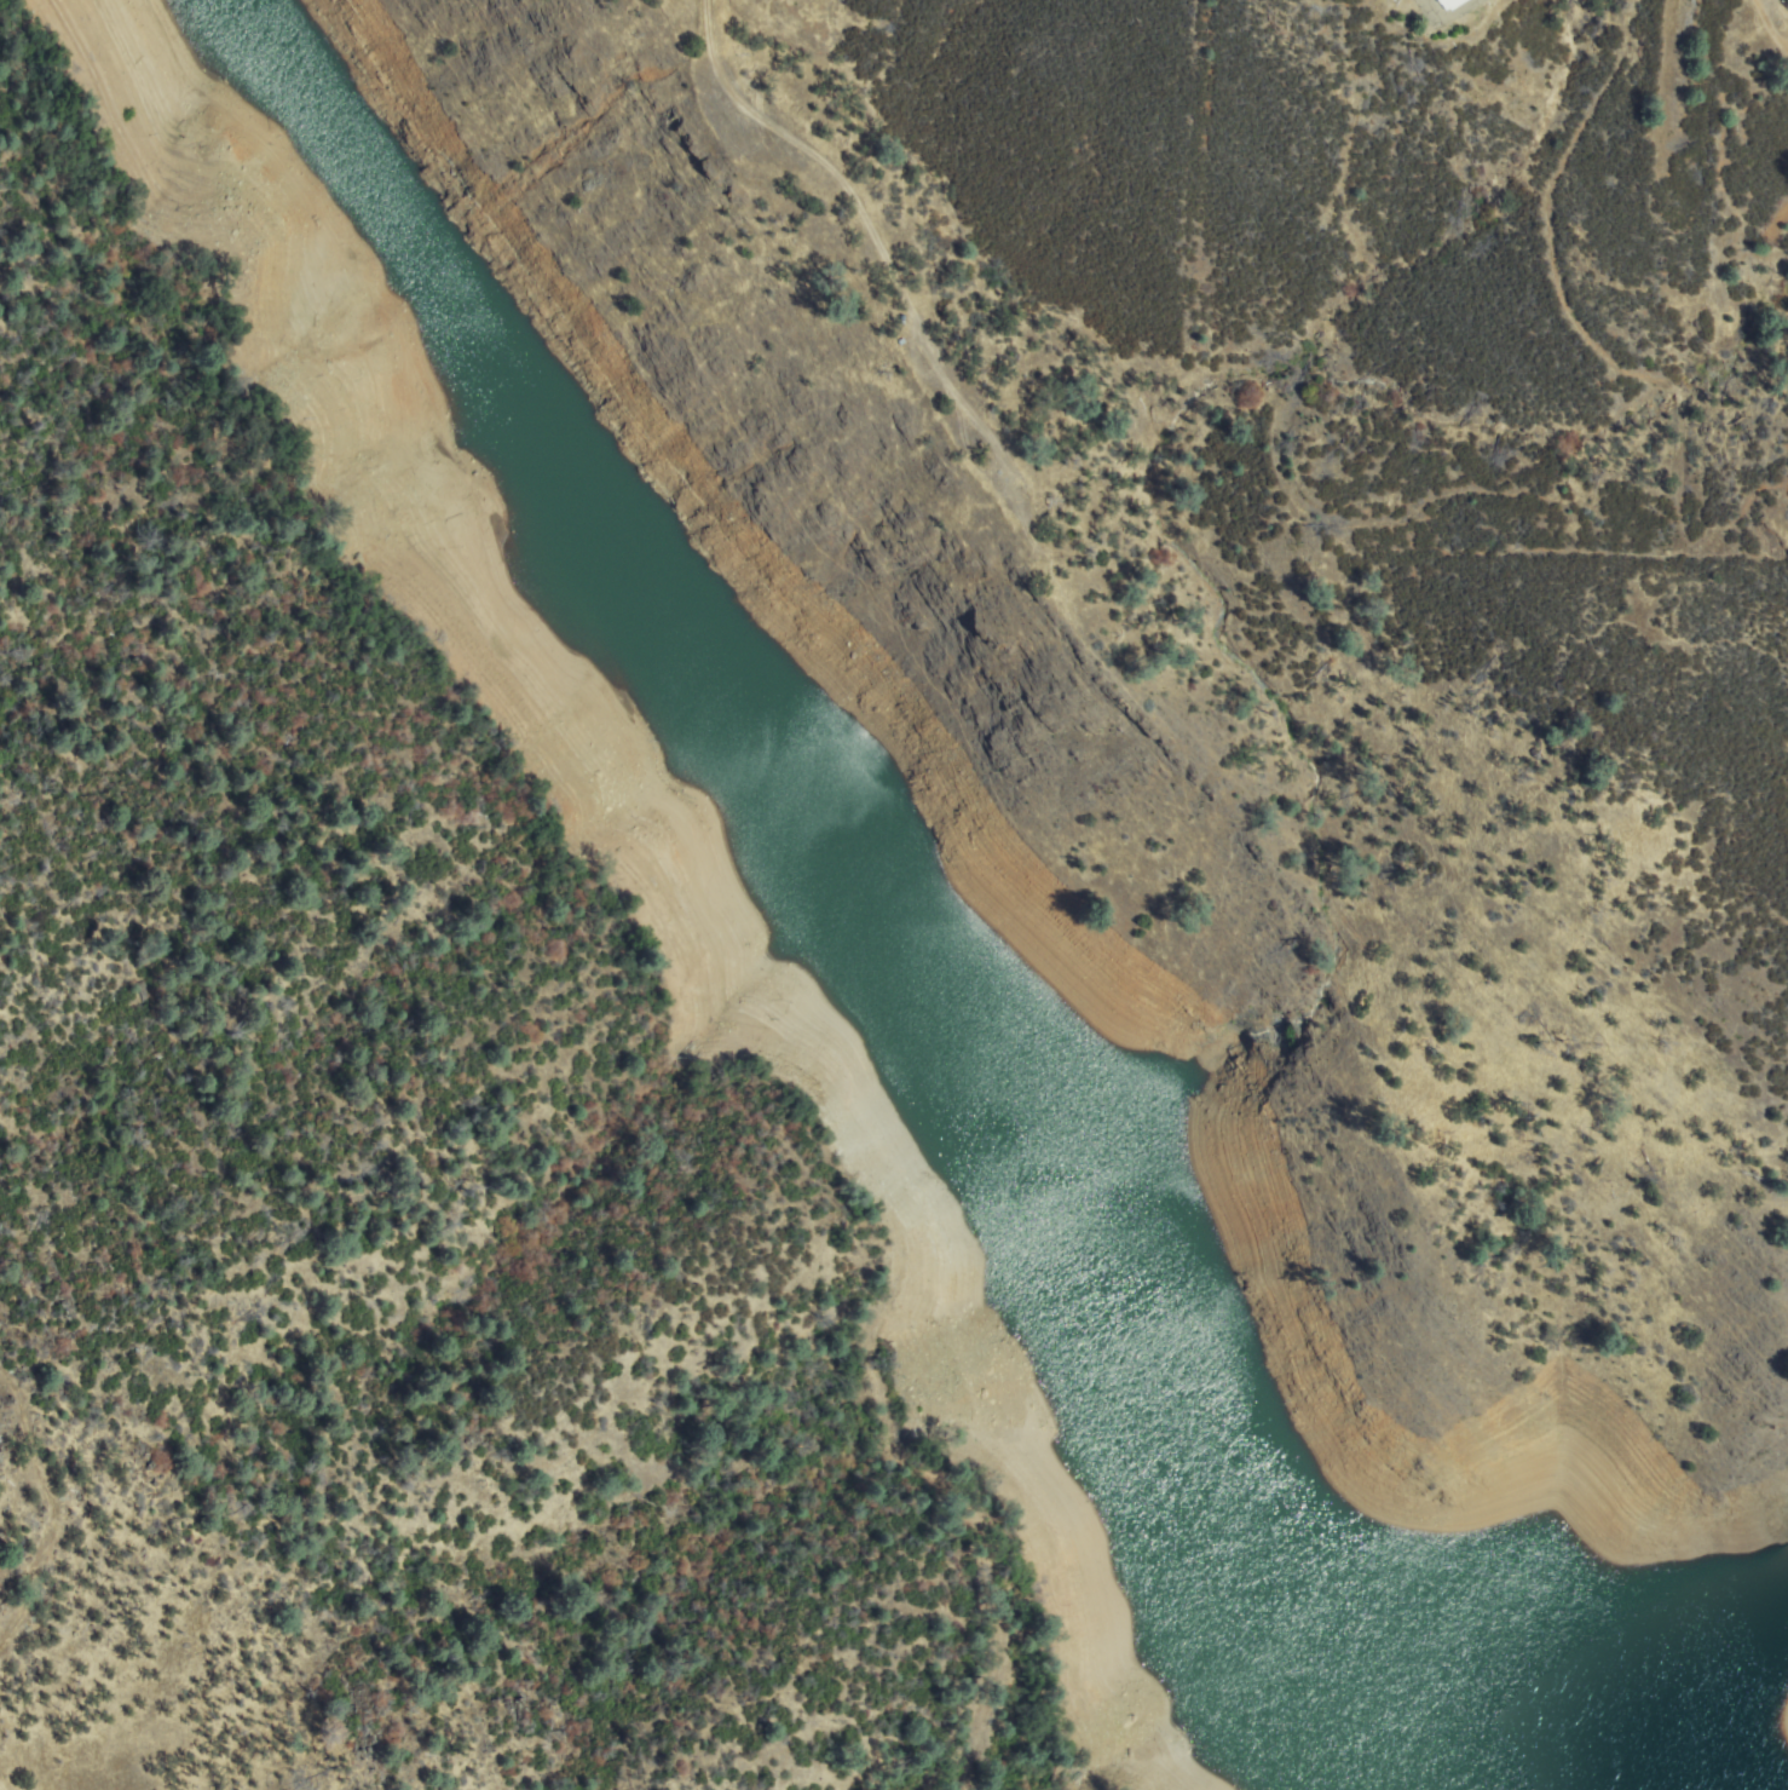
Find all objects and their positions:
building: (1449, 4)
road: (715, 10)

